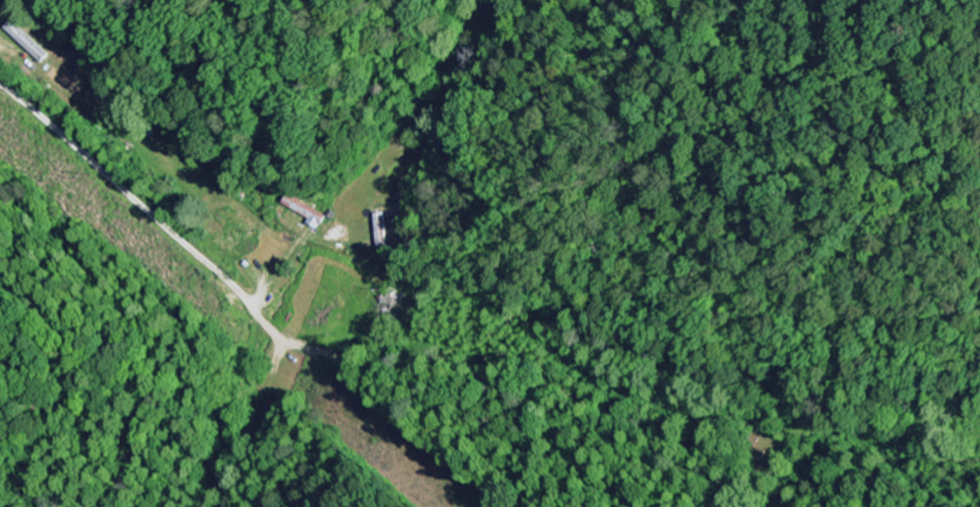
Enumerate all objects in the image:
building: (27, 43)
building: (307, 213)
road: (451, 375)

